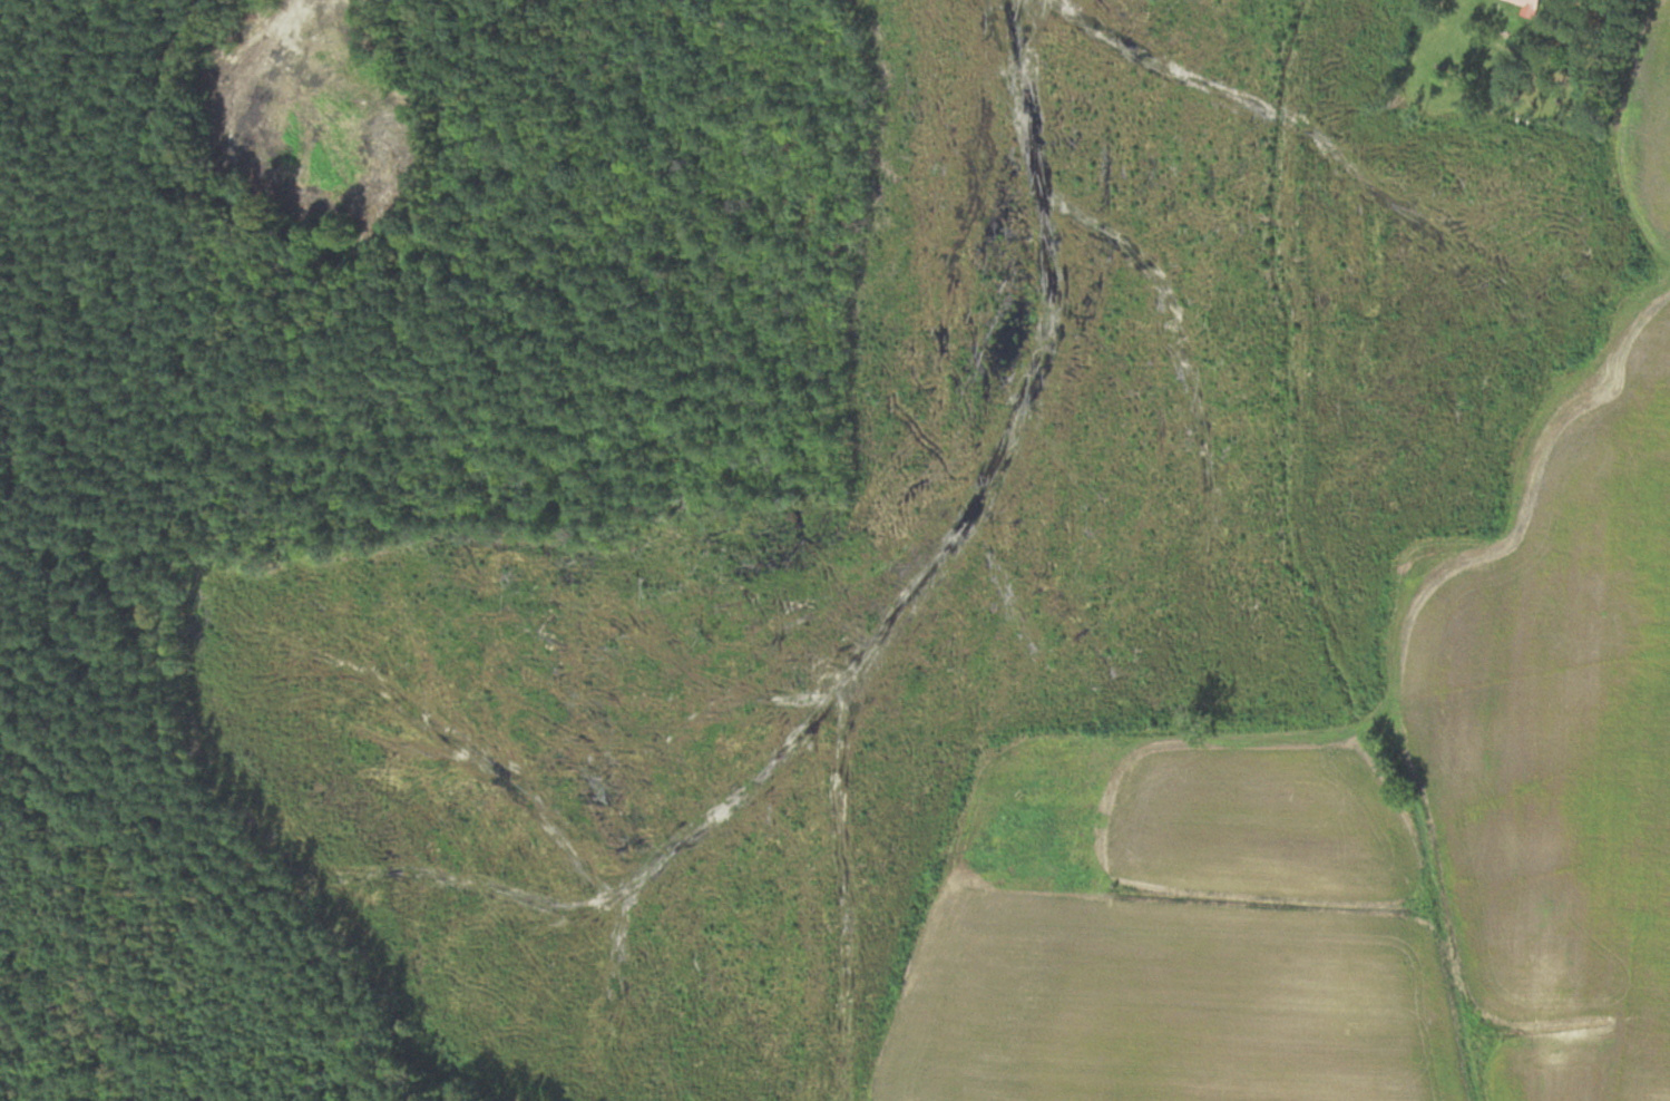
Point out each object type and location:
building: (1529, 8)

